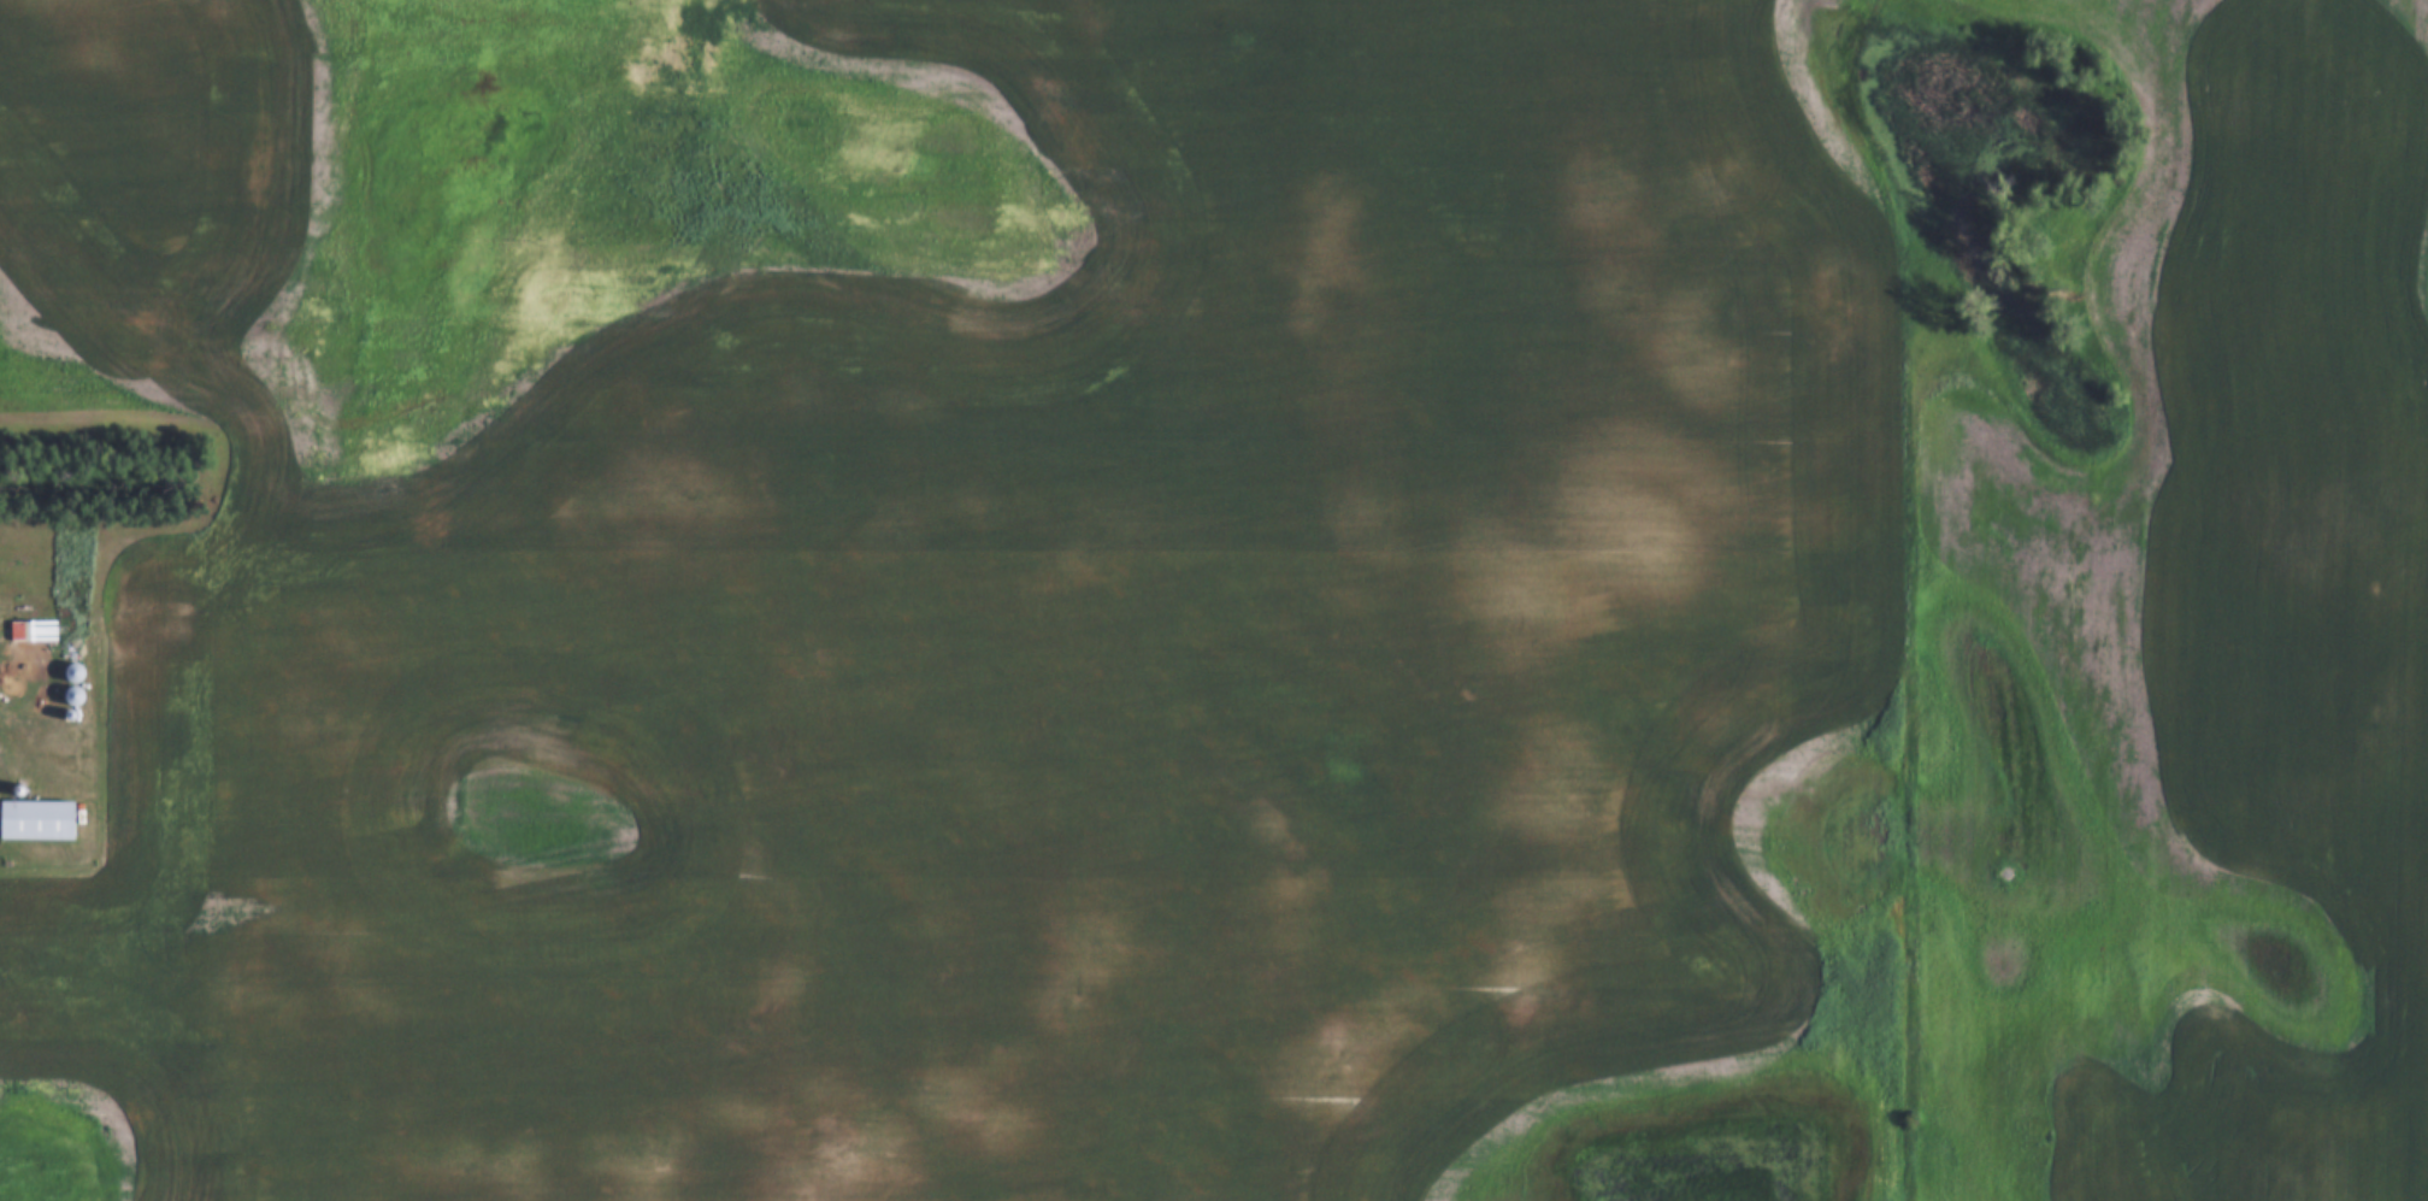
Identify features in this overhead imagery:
building: (16, 630)
building: (33, 819)

